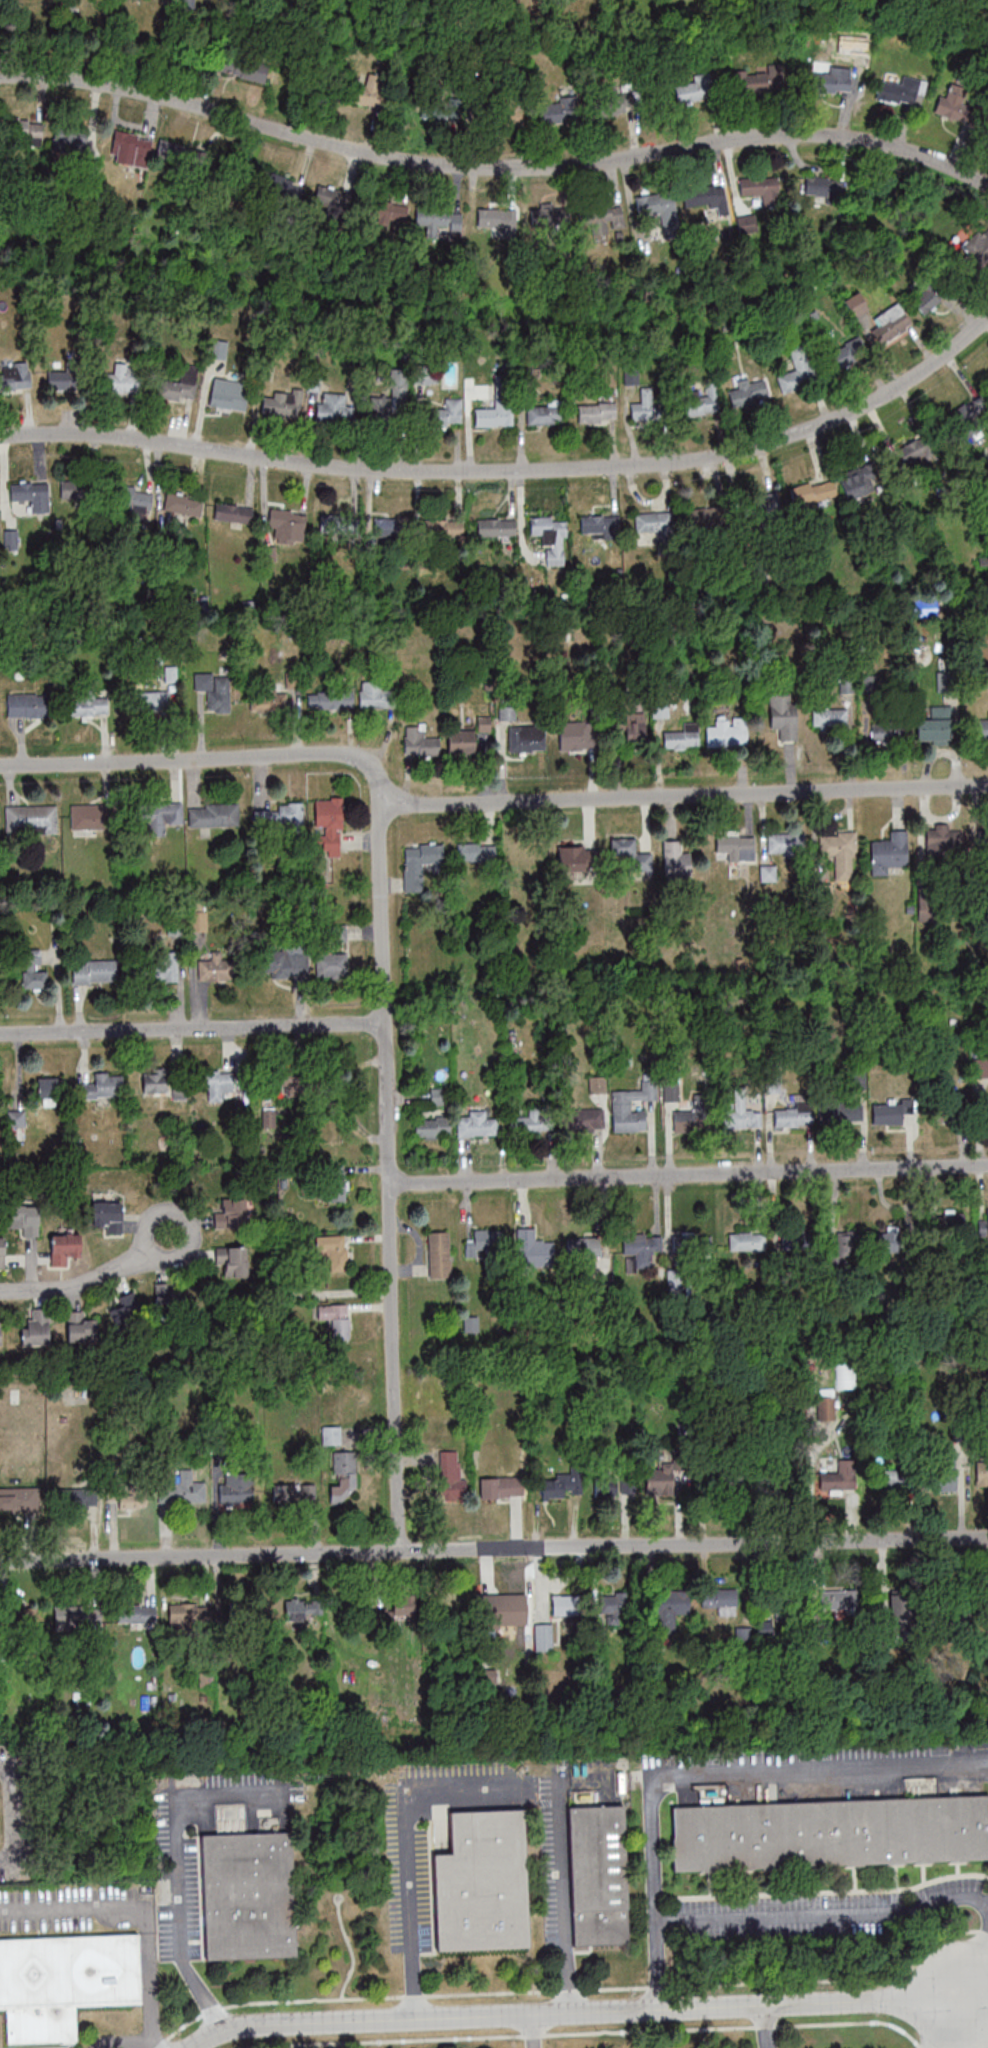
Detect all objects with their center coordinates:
building: (243, 66)
building: (832, 80)
building: (756, 81)
building: (695, 89)
building: (365, 91)
building: (899, 91)
building: (617, 101)
building: (955, 101)
building: (509, 111)
building: (557, 111)
building: (437, 116)
building: (24, 130)
building: (69, 141)
building: (131, 148)
building: (180, 157)
road: (494, 165)
building: (279, 185)
building: (824, 187)
building: (762, 189)
building: (331, 196)
building: (708, 197)
building: (654, 204)
building: (387, 211)
building: (605, 219)
building: (550, 220)
building: (440, 221)
building: (497, 221)
building: (977, 247)
building: (926, 297)
building: (856, 306)
building: (890, 321)
building: (218, 349)
building: (849, 353)
building: (797, 370)
building: (15, 377)
building: (422, 377)
building: (121, 378)
building: (62, 379)
building: (180, 384)
building: (748, 392)
building: (229, 394)
building: (391, 401)
building: (700, 402)
building: (282, 403)
building: (645, 405)
building: (332, 407)
building: (596, 411)
building: (445, 413)
building: (546, 413)
building: (493, 416)
building: (969, 417)
building: (918, 451)
road: (512, 470)
building: (859, 481)
building: (72, 488)
building: (813, 491)
building: (31, 495)
building: (134, 500)
building: (183, 503)
building: (764, 504)
building: (233, 513)
building: (706, 515)
building: (287, 524)
building: (655, 524)
building: (339, 526)
building: (386, 526)
building: (496, 526)
building: (600, 526)
building: (443, 528)
building: (551, 537)
building: (980, 627)
building: (213, 691)
building: (377, 696)
building: (330, 699)
building: (152, 701)
building: (269, 701)
building: (27, 704)
building: (86, 706)
building: (783, 715)
building: (829, 717)
building: (936, 724)
building: (981, 728)
building: (633, 730)
building: (888, 732)
building: (726, 734)
building: (574, 735)
building: (681, 738)
building: (526, 739)
building: (461, 741)
building: (420, 742)
road: (206, 757)
road: (684, 795)
building: (325, 812)
building: (211, 814)
building: (154, 815)
building: (274, 815)
building: (94, 817)
building: (28, 818)
building: (987, 837)
building: (785, 842)
building: (938, 842)
building: (736, 845)
building: (889, 851)
building: (476, 852)
building: (839, 853)
building: (631, 854)
building: (577, 857)
building: (675, 860)
building: (419, 863)
building: (768, 872)
building: (396, 885)
building: (283, 964)
building: (331, 964)
building: (163, 966)
building: (214, 967)
building: (34, 971)
building: (94, 972)
building: (748, 1006)
road: (192, 1026)
building: (281, 1076)
building: (217, 1083)
building: (163, 1084)
building: (597, 1084)
building: (102, 1086)
building: (48, 1089)
building: (953, 1102)
building: (631, 1106)
building: (683, 1106)
building: (985, 1107)
building: (842, 1111)
building: (741, 1113)
building: (887, 1113)
building: (789, 1117)
building: (583, 1119)
building: (533, 1120)
building: (476, 1124)
building: (432, 1128)
road: (689, 1172)
road: (389, 1177)
building: (335, 1183)
building: (231, 1214)
building: (108, 1215)
building: (25, 1219)
road: (185, 1220)
building: (946, 1223)
building: (983, 1226)
building: (488, 1239)
building: (888, 1239)
building: (747, 1240)
building: (797, 1240)
building: (846, 1242)
building: (692, 1244)
building: (64, 1247)
building: (642, 1247)
building: (534, 1249)
building: (583, 1249)
building: (332, 1250)
building: (2, 1251)
building: (439, 1254)
building: (233, 1260)
road: (72, 1284)
building: (168, 1302)
building: (126, 1313)
building: (336, 1319)
building: (211, 1321)
building: (77, 1326)
building: (37, 1328)
building: (0, 1333)
building: (825, 1408)
building: (331, 1434)
building: (982, 1474)
building: (343, 1476)
building: (450, 1476)
building: (840, 1476)
building: (884, 1478)
building: (941, 1478)
building: (628, 1481)
building: (658, 1481)
building: (728, 1482)
building: (606, 1483)
building: (562, 1485)
building: (499, 1487)
building: (236, 1490)
building: (182, 1492)
building: (294, 1492)
building: (77, 1497)
building: (129, 1497)
building: (19, 1499)
road: (494, 1548)
building: (838, 1599)
building: (720, 1600)
building: (449, 1604)
building: (566, 1604)
building: (613, 1604)
building: (784, 1604)
building: (978, 1606)
building: (296, 1609)
building: (502, 1610)
building: (670, 1610)
building: (902, 1610)
building: (246, 1613)
building: (137, 1614)
building: (184, 1614)
building: (348, 1614)
building: (389, 1616)
building: (79, 1618)
building: (20, 1620)
building: (542, 1635)
building: (369, 1681)
building: (966, 1687)
road: (9, 1814)
building: (830, 1832)
road: (651, 1852)
road: (175, 1864)
building: (599, 1874)
building: (482, 1882)
building: (247, 1894)
road: (560, 1899)
road: (142, 1903)
road: (406, 1909)
road: (980, 1962)
road: (656, 1965)
building: (64, 1981)
road: (981, 1993)
road: (580, 2013)
road: (952, 2023)
road: (974, 2023)
road: (763, 2027)
road: (528, 2031)
road: (127, 2043)
road: (157, 2045)

